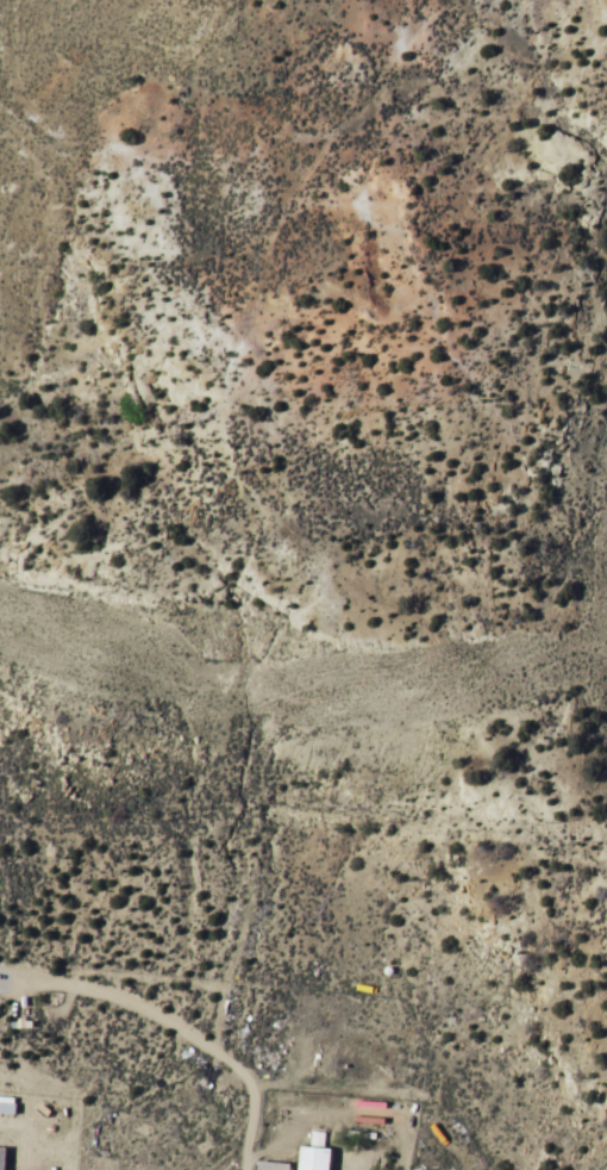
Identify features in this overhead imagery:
railway: (302, 687)

